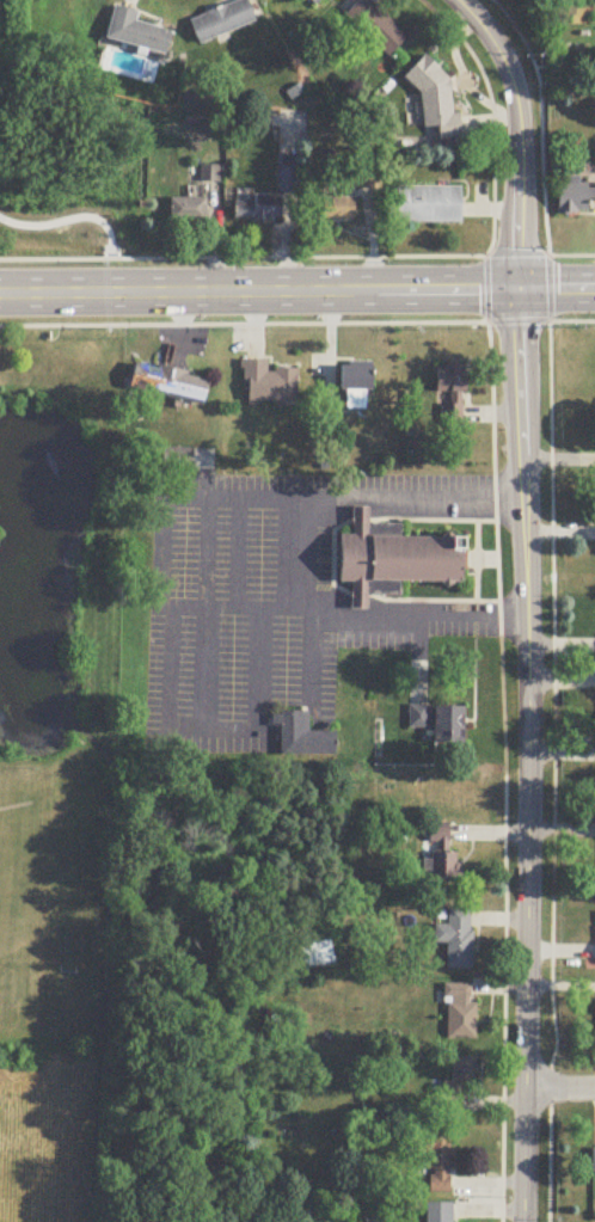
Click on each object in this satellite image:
building: (315, 2)
building: (222, 23)
building: (375, 27)
building: (136, 32)
building: (435, 102)
road: (491, 113)
road: (539, 121)
road: (519, 134)
building: (575, 198)
building: (429, 207)
building: (257, 208)
building: (337, 210)
building: (189, 211)
road: (75, 223)
road: (5, 225)
park: (57, 228)
road: (516, 252)
road: (570, 256)
road: (244, 258)
road: (296, 291)
road: (572, 320)
road: (516, 321)
road: (243, 324)
building: (355, 379)
building: (450, 381)
building: (268, 383)
building: (168, 385)
road: (493, 394)
building: (453, 415)
building: (178, 460)
road: (496, 493)
road: (501, 495)
road: (207, 497)
road: (434, 516)
building: (388, 553)
road: (478, 557)
road: (499, 558)
road: (278, 589)
parking lot: (270, 591)
road: (424, 596)
road: (489, 597)
road: (384, 613)
road: (505, 613)
road: (502, 619)
building: (419, 681)
building: (438, 723)
building: (300, 730)
road: (528, 755)
park: (56, 761)
road: (556, 773)
road: (16, 807)
building: (438, 834)
building: (444, 867)
road: (508, 888)
park: (33, 896)
building: (456, 939)
building: (460, 1014)
building: (459, 1080)
road: (560, 1091)
building: (437, 1161)
building: (593, 1165)
road: (502, 1179)
building: (438, 1214)

